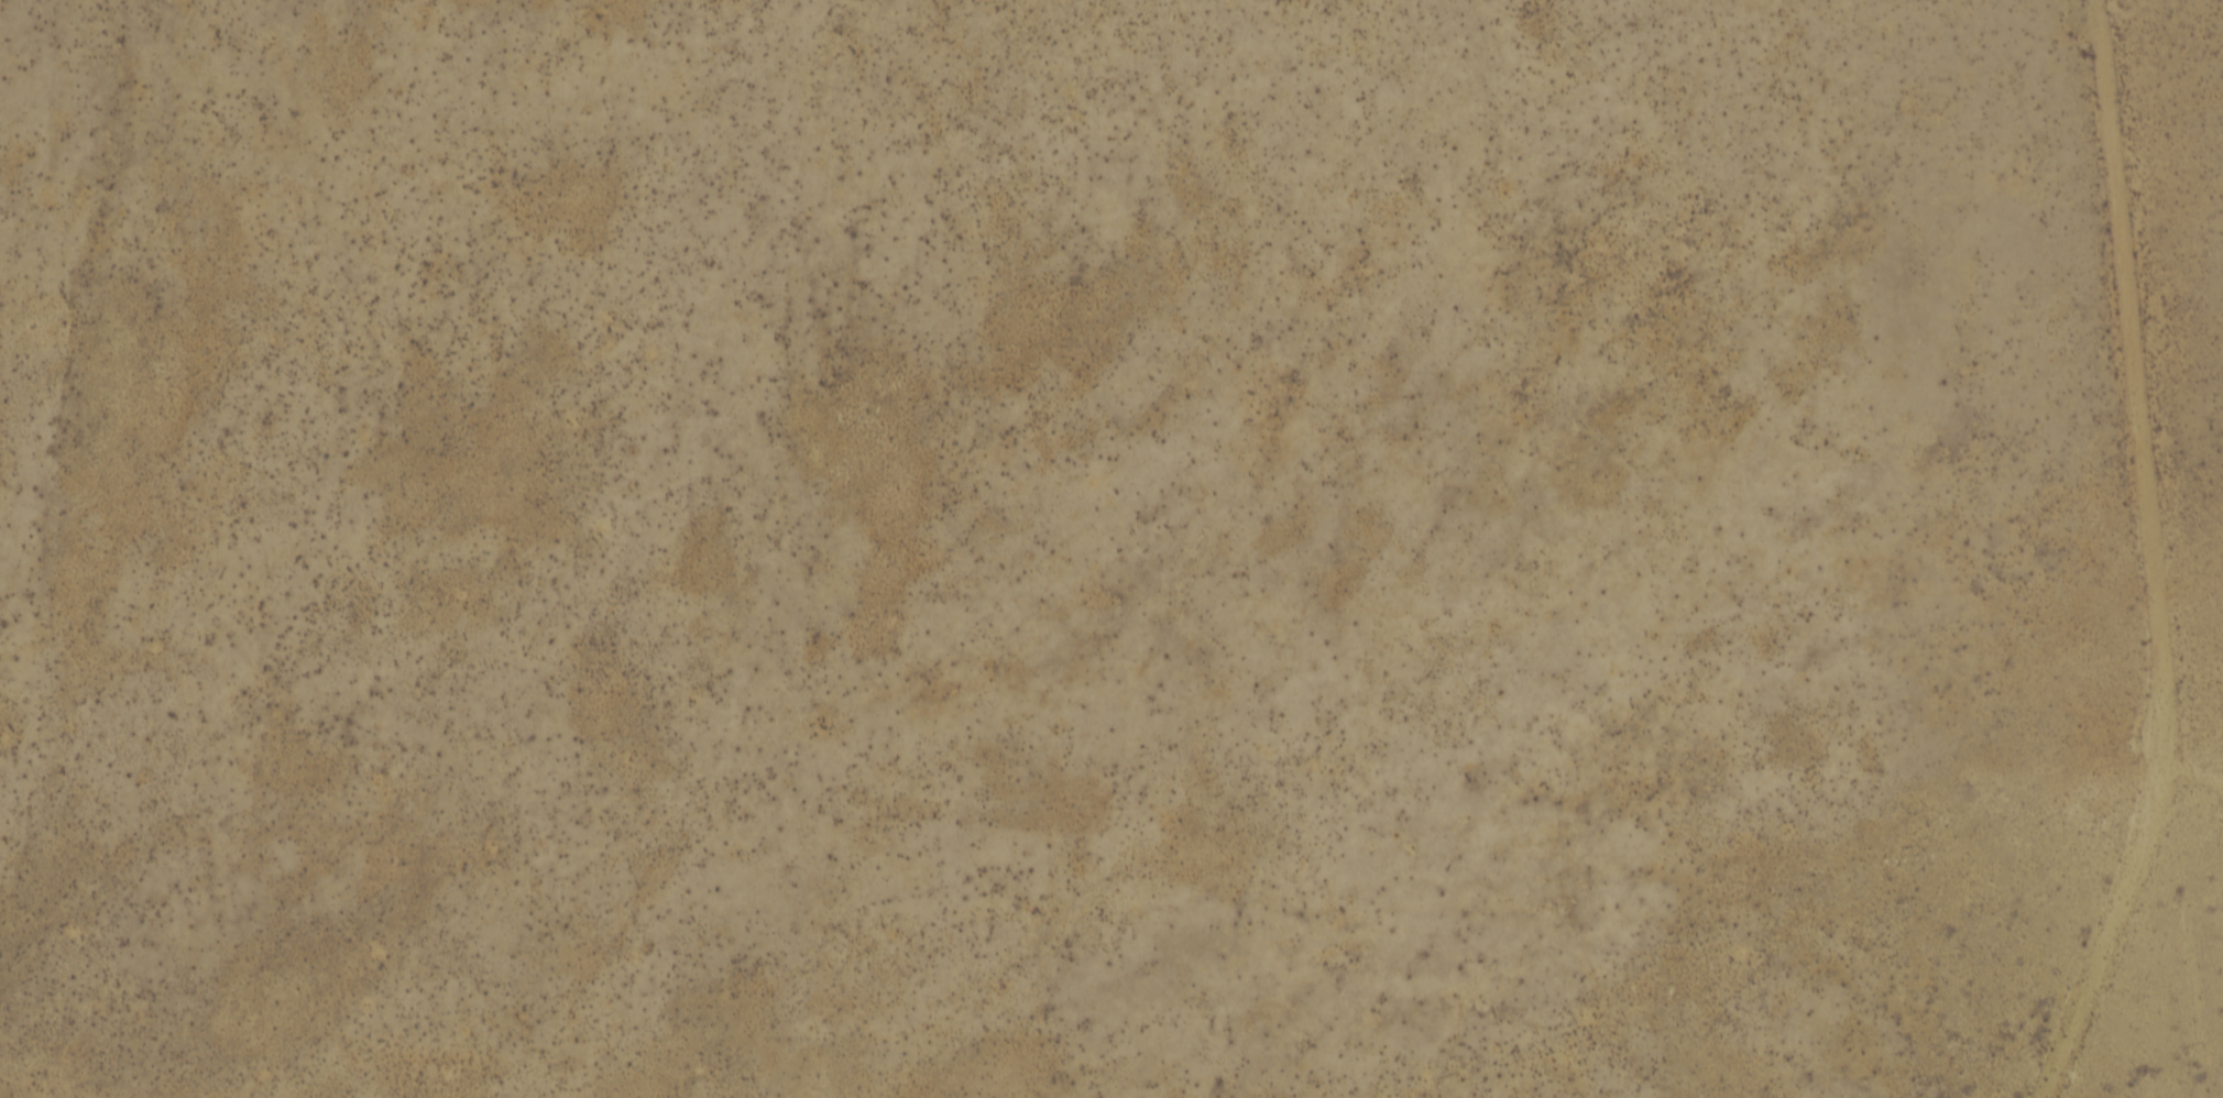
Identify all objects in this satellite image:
road: (2135, 383)
road: (2194, 779)
road: (2106, 933)

